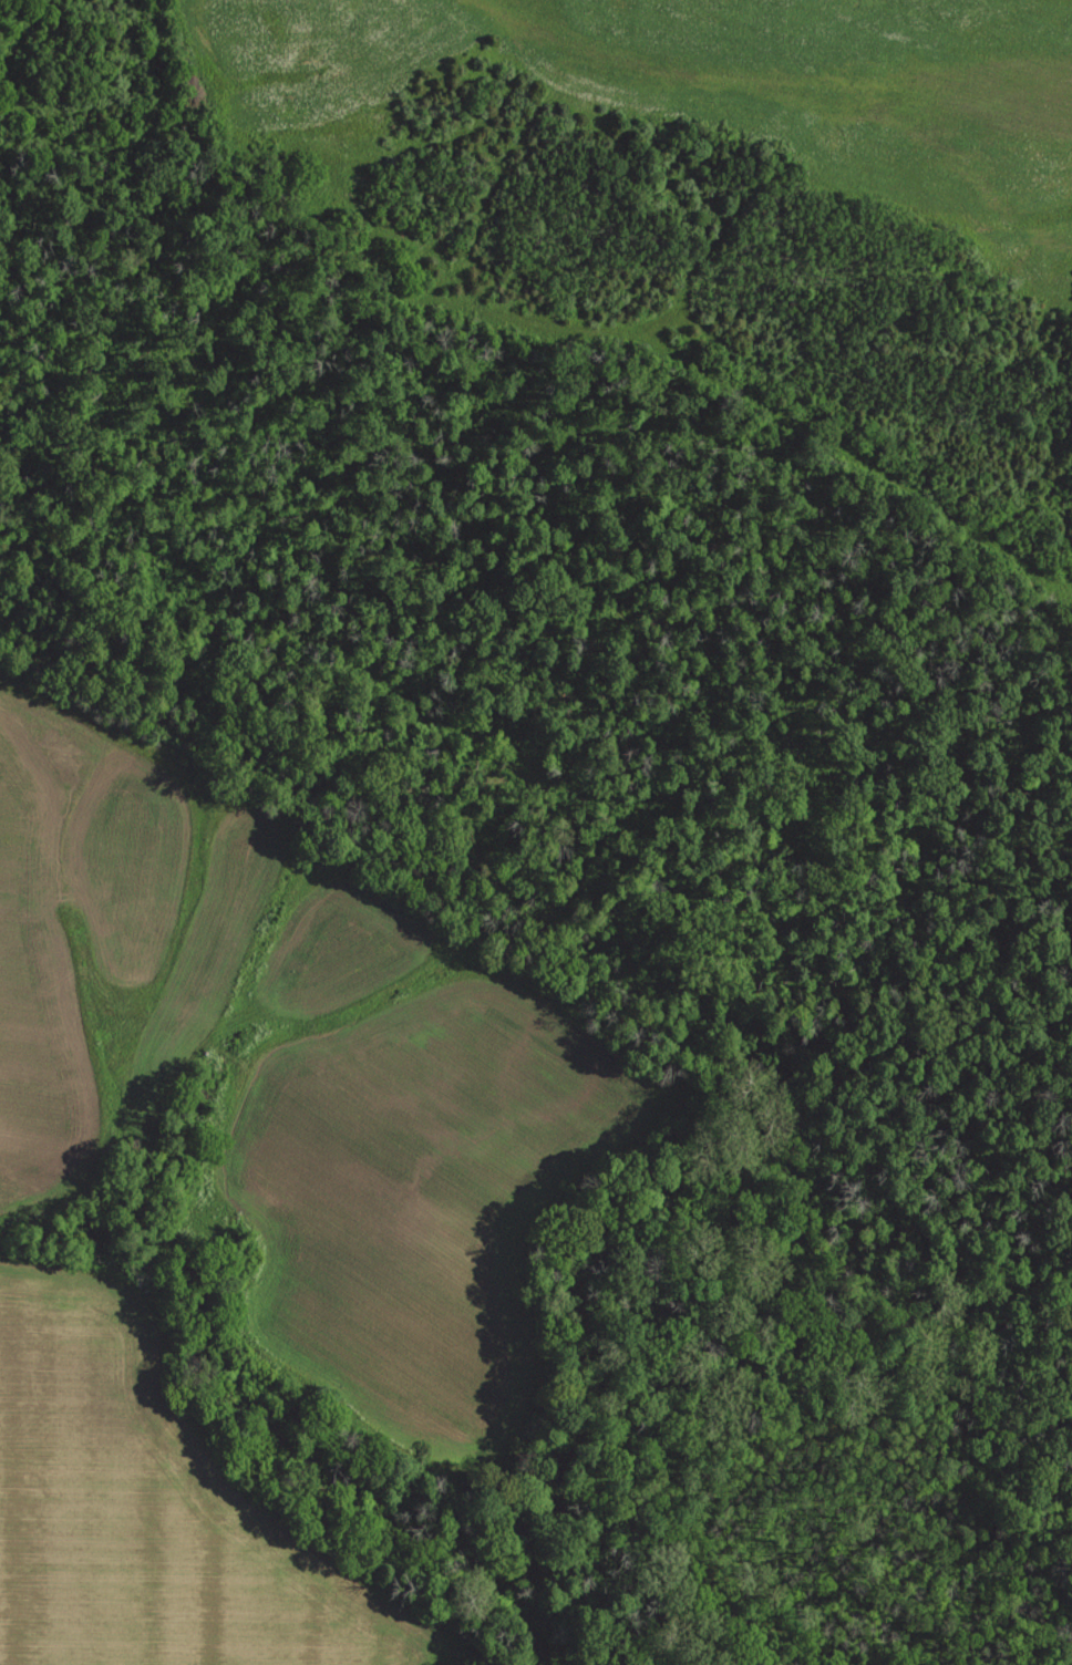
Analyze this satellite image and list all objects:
road: (773, 73)

